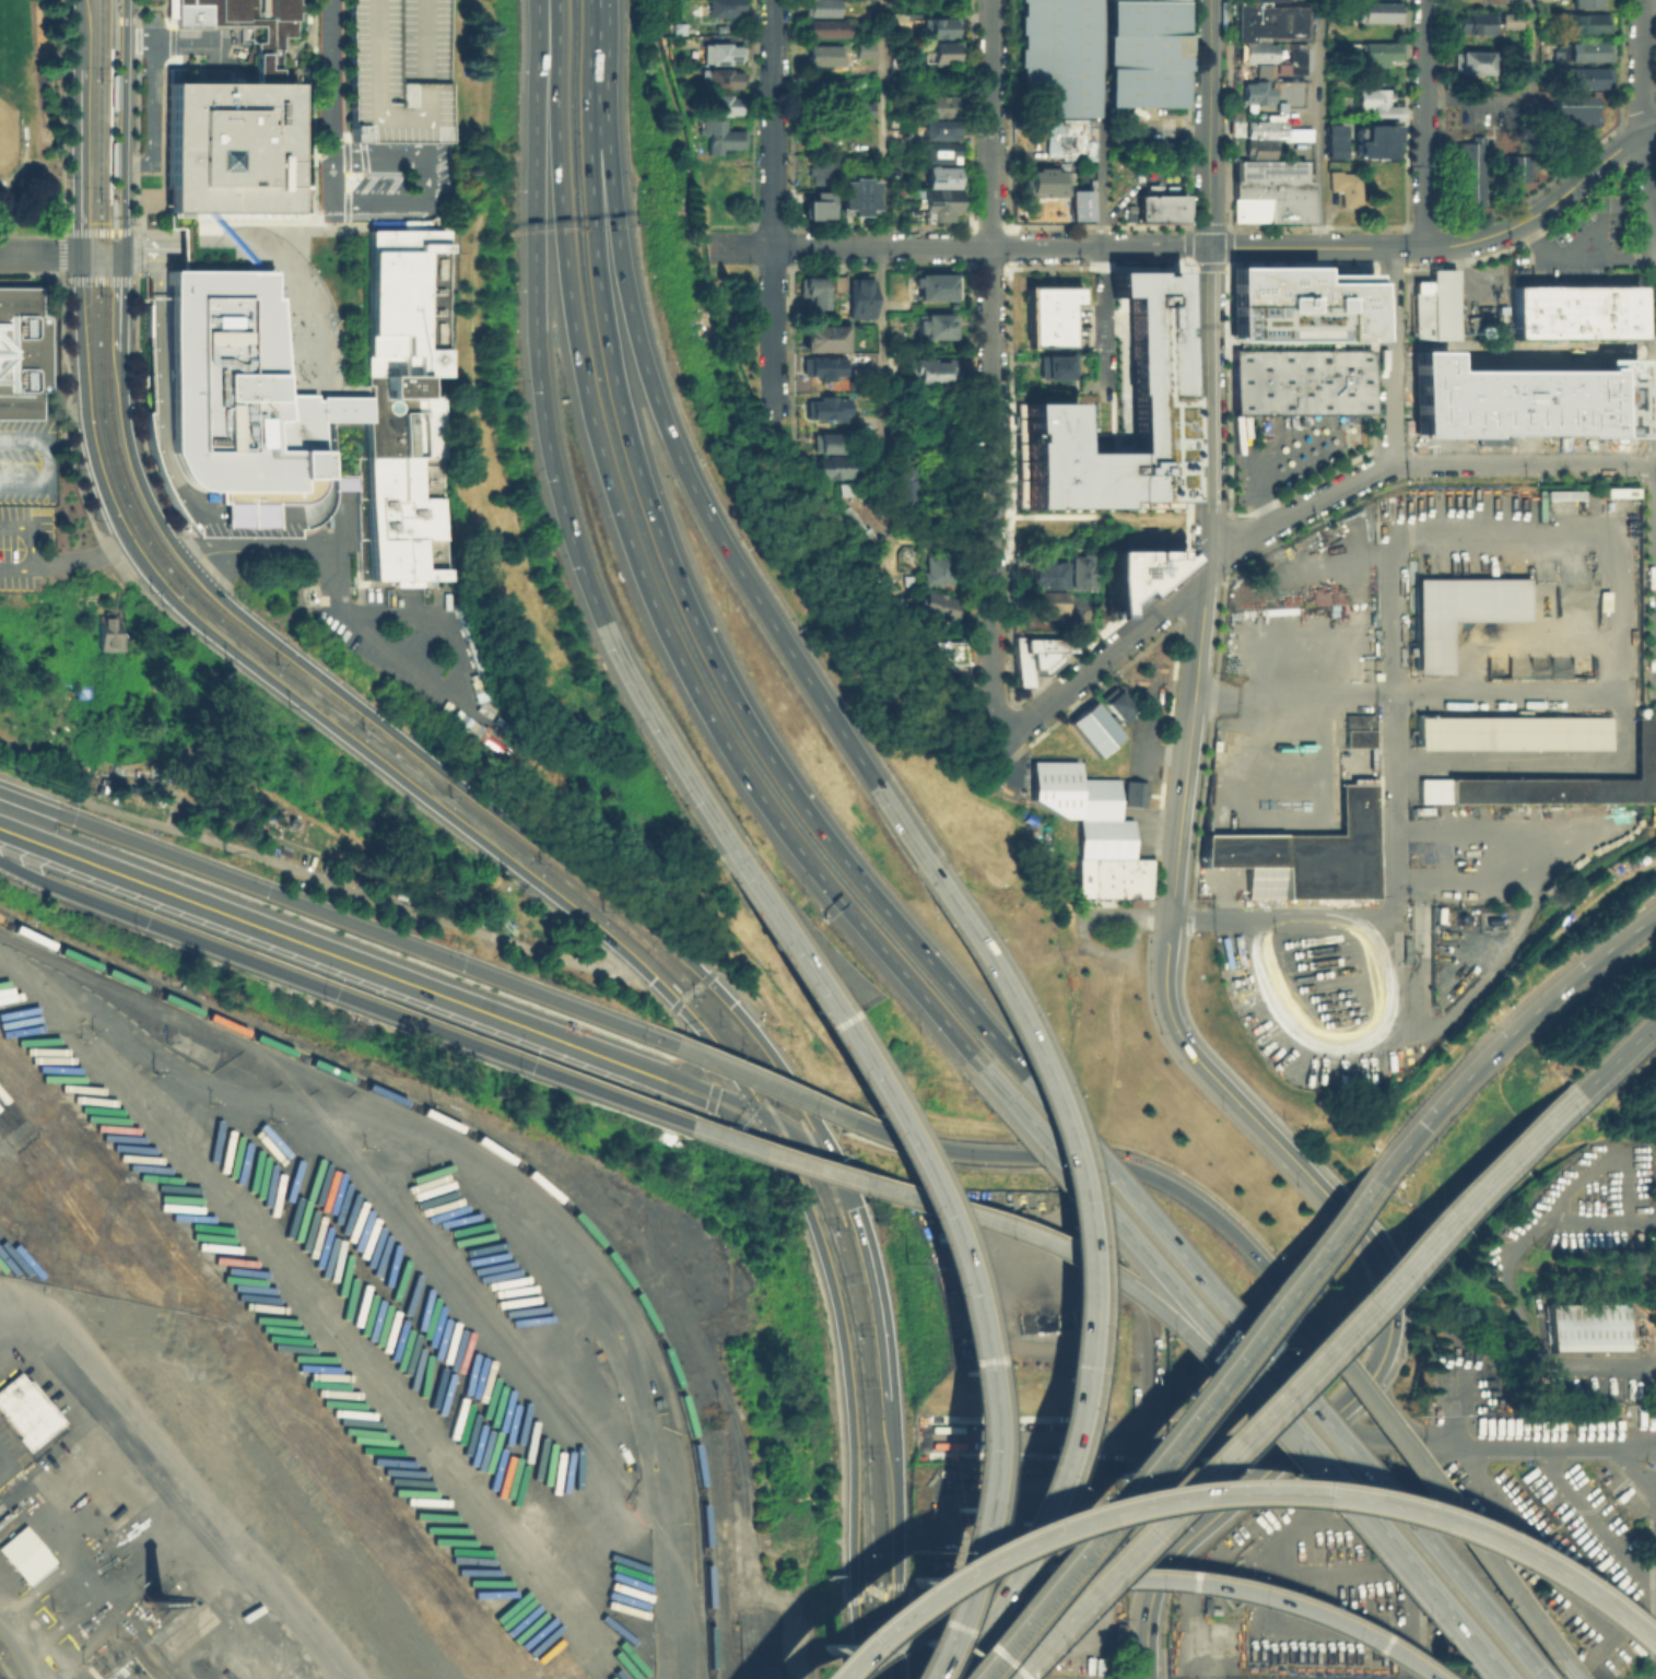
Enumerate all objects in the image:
building: (1267, 0)
building: (1494, 0)
building: (1585, 2)
building: (820, 4)
building: (723, 7)
building: (1376, 10)
road: (663, 16)
road: (126, 19)
building: (1510, 19)
building: (1267, 20)
building: (1475, 21)
building: (1584, 21)
building: (823, 25)
building: (937, 25)
building: (254, 27)
road: (80, 34)
road: (172, 42)
building: (862, 45)
railway: (119, 47)
building: (1586, 47)
building: (1377, 49)
building: (1256, 50)
building: (719, 51)
building: (938, 51)
road: (594, 52)
building: (824, 52)
building: (1144, 52)
building: (1296, 56)
building: (1055, 57)
building: (1470, 59)
building: (900, 61)
road: (1643, 67)
building: (396, 69)
parking lot: (396, 69)
building: (1264, 70)
building: (720, 75)
building: (1587, 75)
road: (315, 78)
building: (821, 82)
road: (559, 87)
building: (1256, 91)
road: (1528, 97)
park: (7, 99)
building: (723, 102)
building: (1379, 102)
road: (333, 103)
building: (943, 103)
building: (1291, 104)
building: (862, 105)
building: (889, 106)
building: (1574, 110)
road: (152, 111)
road: (116, 115)
park: (32, 116)
road: (36, 118)
road: (1425, 122)
road: (773, 124)
road: (991, 124)
road: (1211, 124)
road: (1320, 124)
road: (126, 127)
building: (1268, 128)
building: (941, 131)
road: (1151, 132)
building: (1338, 132)
building: (1383, 133)
building: (1068, 137)
building: (723, 139)
building: (825, 142)
parking lot: (1146, 142)
building: (233, 146)
building: (1259, 146)
road: (324, 150)
building: (1338, 150)
building: (1377, 150)
building: (943, 154)
road: (379, 157)
road: (81, 160)
building: (1517, 167)
building: (826, 171)
building: (1471, 172)
road: (1588, 175)
building: (941, 178)
building: (1046, 179)
road: (314, 190)
building: (1270, 190)
building: (1350, 190)
road: (345, 191)
road: (1100, 192)
building: (854, 197)
road: (1649, 197)
road: (144, 199)
road: (26, 201)
building: (943, 201)
building: (814, 203)
building: (1079, 203)
road: (399, 206)
building: (1160, 207)
road: (326, 226)
road: (1594, 226)
road: (230, 233)
building: (234, 240)
parking lot: (1577, 246)
road: (848, 247)
road: (1101, 247)
road: (1367, 248)
road: (61, 253)
traffic signals: (80, 253)
road: (1581, 253)
traffic signals: (124, 254)
road: (150, 254)
road: (620, 254)
road: (599, 259)
road: (882, 265)
road: (64, 279)
building: (838, 282)
building: (938, 289)
building: (815, 294)
road: (120, 300)
building: (864, 301)
building: (1301, 302)
building: (1435, 305)
building: (1052, 315)
building: (1576, 315)
building: (939, 328)
road: (773, 329)
building: (827, 339)
building: (1151, 344)
building: (156, 351)
building: (22, 353)
road: (1393, 356)
building: (832, 368)
building: (1055, 368)
building: (931, 373)
building: (1301, 379)
road: (357, 388)
road: (331, 391)
building: (227, 395)
building: (1522, 399)
building: (406, 410)
building: (830, 410)
road: (1209, 411)
road: (141, 424)
road: (550, 442)
building: (830, 444)
building: (866, 445)
building: (327, 447)
road: (1290, 456)
road: (49, 461)
road: (134, 462)
road: (1524, 462)
building: (834, 469)
building: (902, 471)
road: (1250, 473)
building: (345, 481)
building: (899, 484)
building: (838, 490)
building: (1620, 491)
road: (991, 493)
building: (1562, 493)
road: (1295, 513)
building: (242, 515)
road: (32, 528)
road: (937, 530)
road: (258, 548)
road: (81, 557)
road: (16, 568)
building: (935, 570)
building: (1082, 572)
building: (1134, 573)
building: (1047, 578)
road: (756, 596)
building: (902, 600)
building: (1045, 602)
building: (940, 609)
building: (1463, 614)
building: (111, 633)
building: (949, 650)
road: (1105, 654)
building: (1040, 657)
road: (680, 660)
building: (474, 661)
road: (419, 668)
building: (421, 693)
road: (1408, 694)
building: (1109, 704)
building: (455, 717)
road: (331, 726)
building: (1092, 728)
building: (1361, 732)
building: (1515, 735)
road: (778, 768)
road: (1393, 770)
road: (448, 772)
building: (1558, 779)
building: (1054, 785)
building: (1132, 792)
building: (1096, 797)
railway: (498, 825)
railway: (481, 826)
building: (1103, 837)
building: (1305, 854)
road: (316, 877)
building: (1112, 877)
road: (337, 918)
road: (1282, 918)
road: (788, 924)
road: (329, 952)
railway: (85, 960)
road: (42, 965)
railway: (85, 967)
road: (714, 973)
road: (342, 994)
road: (653, 996)
road: (690, 996)
road: (743, 996)
road: (1506, 1038)
road: (1184, 1042)
road: (695, 1045)
road: (245, 1048)
road: (1616, 1056)
road: (792, 1083)
road: (202, 1084)
road: (765, 1084)
road: (708, 1088)
road: (683, 1091)
road: (710, 1099)
traffic signals: (756, 1108)
traffic signals: (1426, 1124)
road: (728, 1127)
road: (753, 1129)
road: (772, 1137)
road: (814, 1146)
road: (776, 1162)
road: (1136, 1170)
traffic signals: (854, 1205)
road: (977, 1217)
road: (1107, 1218)
road: (1074, 1225)
railway: (587, 1229)
road: (938, 1243)
road: (1305, 1264)
road: (1501, 1287)
road: (317, 1313)
railway: (489, 1316)
road: (631, 1325)
building: (1588, 1330)
road: (883, 1332)
road: (1277, 1377)
road: (846, 1378)
road: (1277, 1382)
road: (1186, 1402)
building: (25, 1410)
road: (1394, 1411)
road: (1141, 1440)
road: (1383, 1440)
road: (1549, 1447)
road: (1144, 1459)
road: (5, 1460)
road: (1635, 1469)
road: (173, 1472)
road: (1220, 1491)
road: (1215, 1516)
road: (1449, 1523)
road: (899, 1524)
road: (1364, 1525)
building: (23, 1552)
road: (1407, 1554)
road: (1043, 1569)
road: (1121, 1577)
road: (876, 1592)
road: (895, 1631)
road: (854, 1640)
railway: (0, 1651)
road: (19, 1652)
railway: (145, 1658)
road: (1147, 1662)
railway: (2, 1676)

